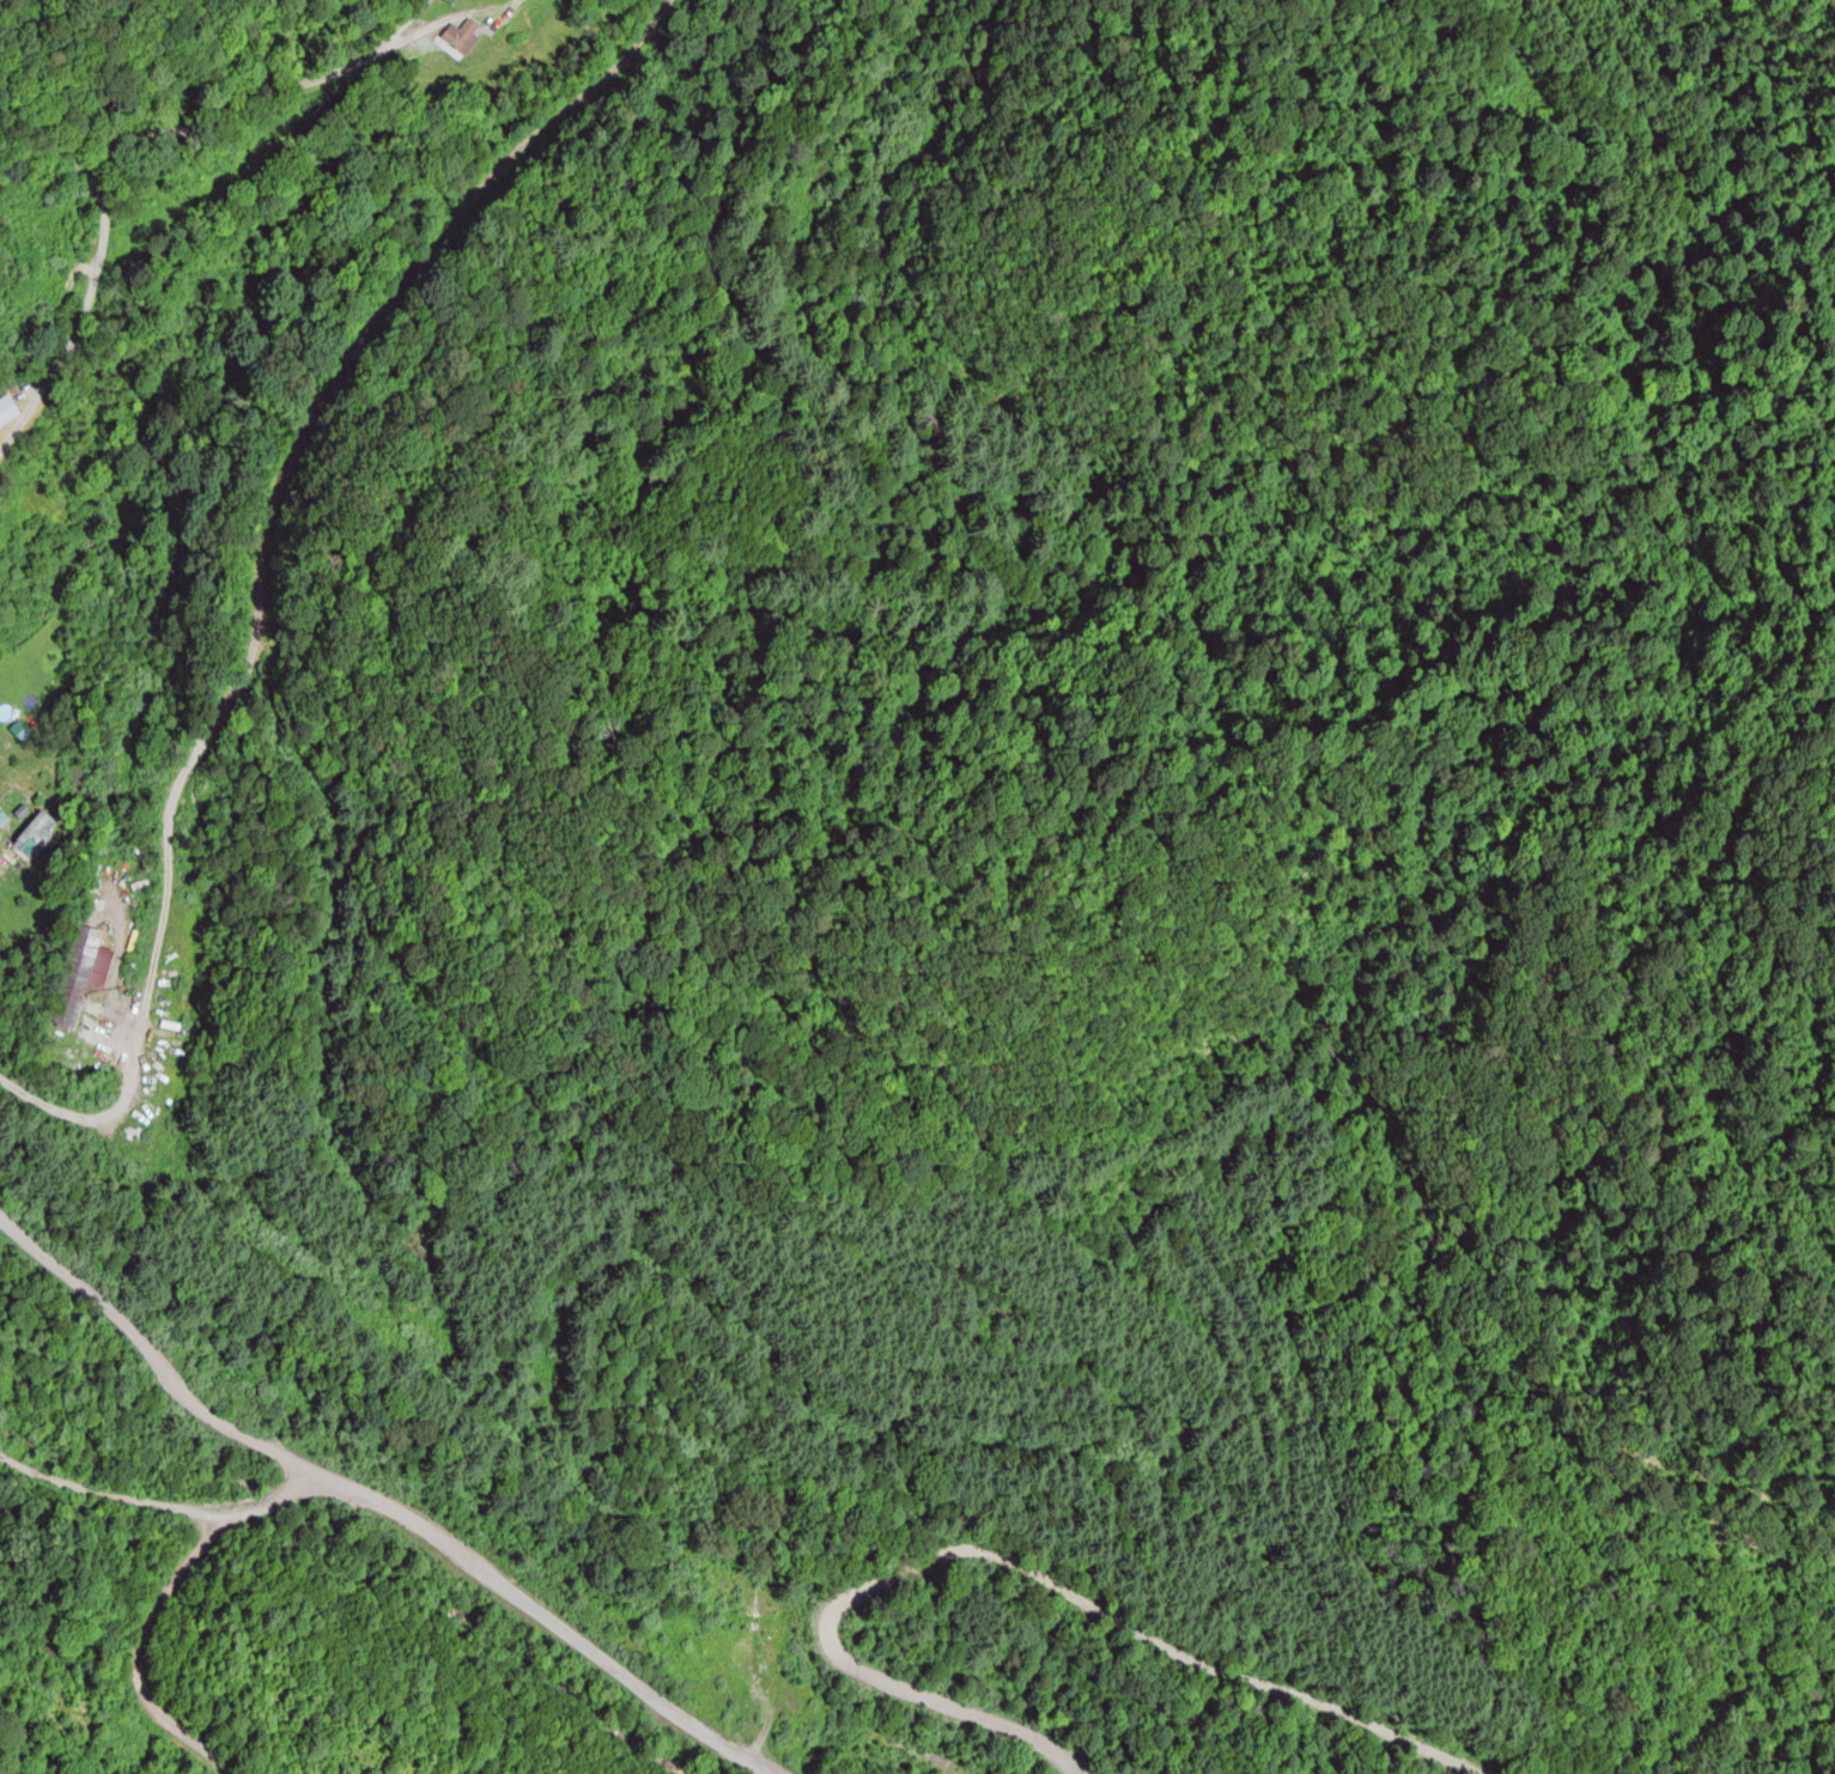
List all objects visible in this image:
building: (462, 40)
road: (159, 133)
building: (8, 412)
road: (268, 569)
building: (20, 730)
building: (2, 818)
building: (36, 836)
building: (84, 972)
road: (411, 1531)
road: (1142, 1633)
road: (946, 1701)

